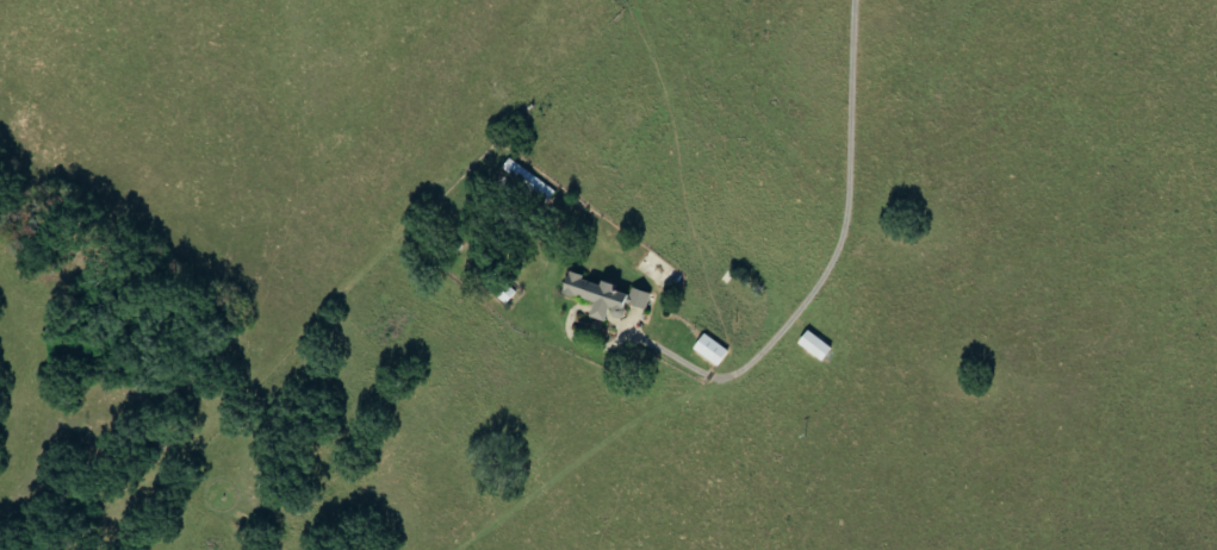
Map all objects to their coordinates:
road: (834, 250)
building: (735, 288)
building: (598, 296)
building: (809, 345)
building: (704, 349)

